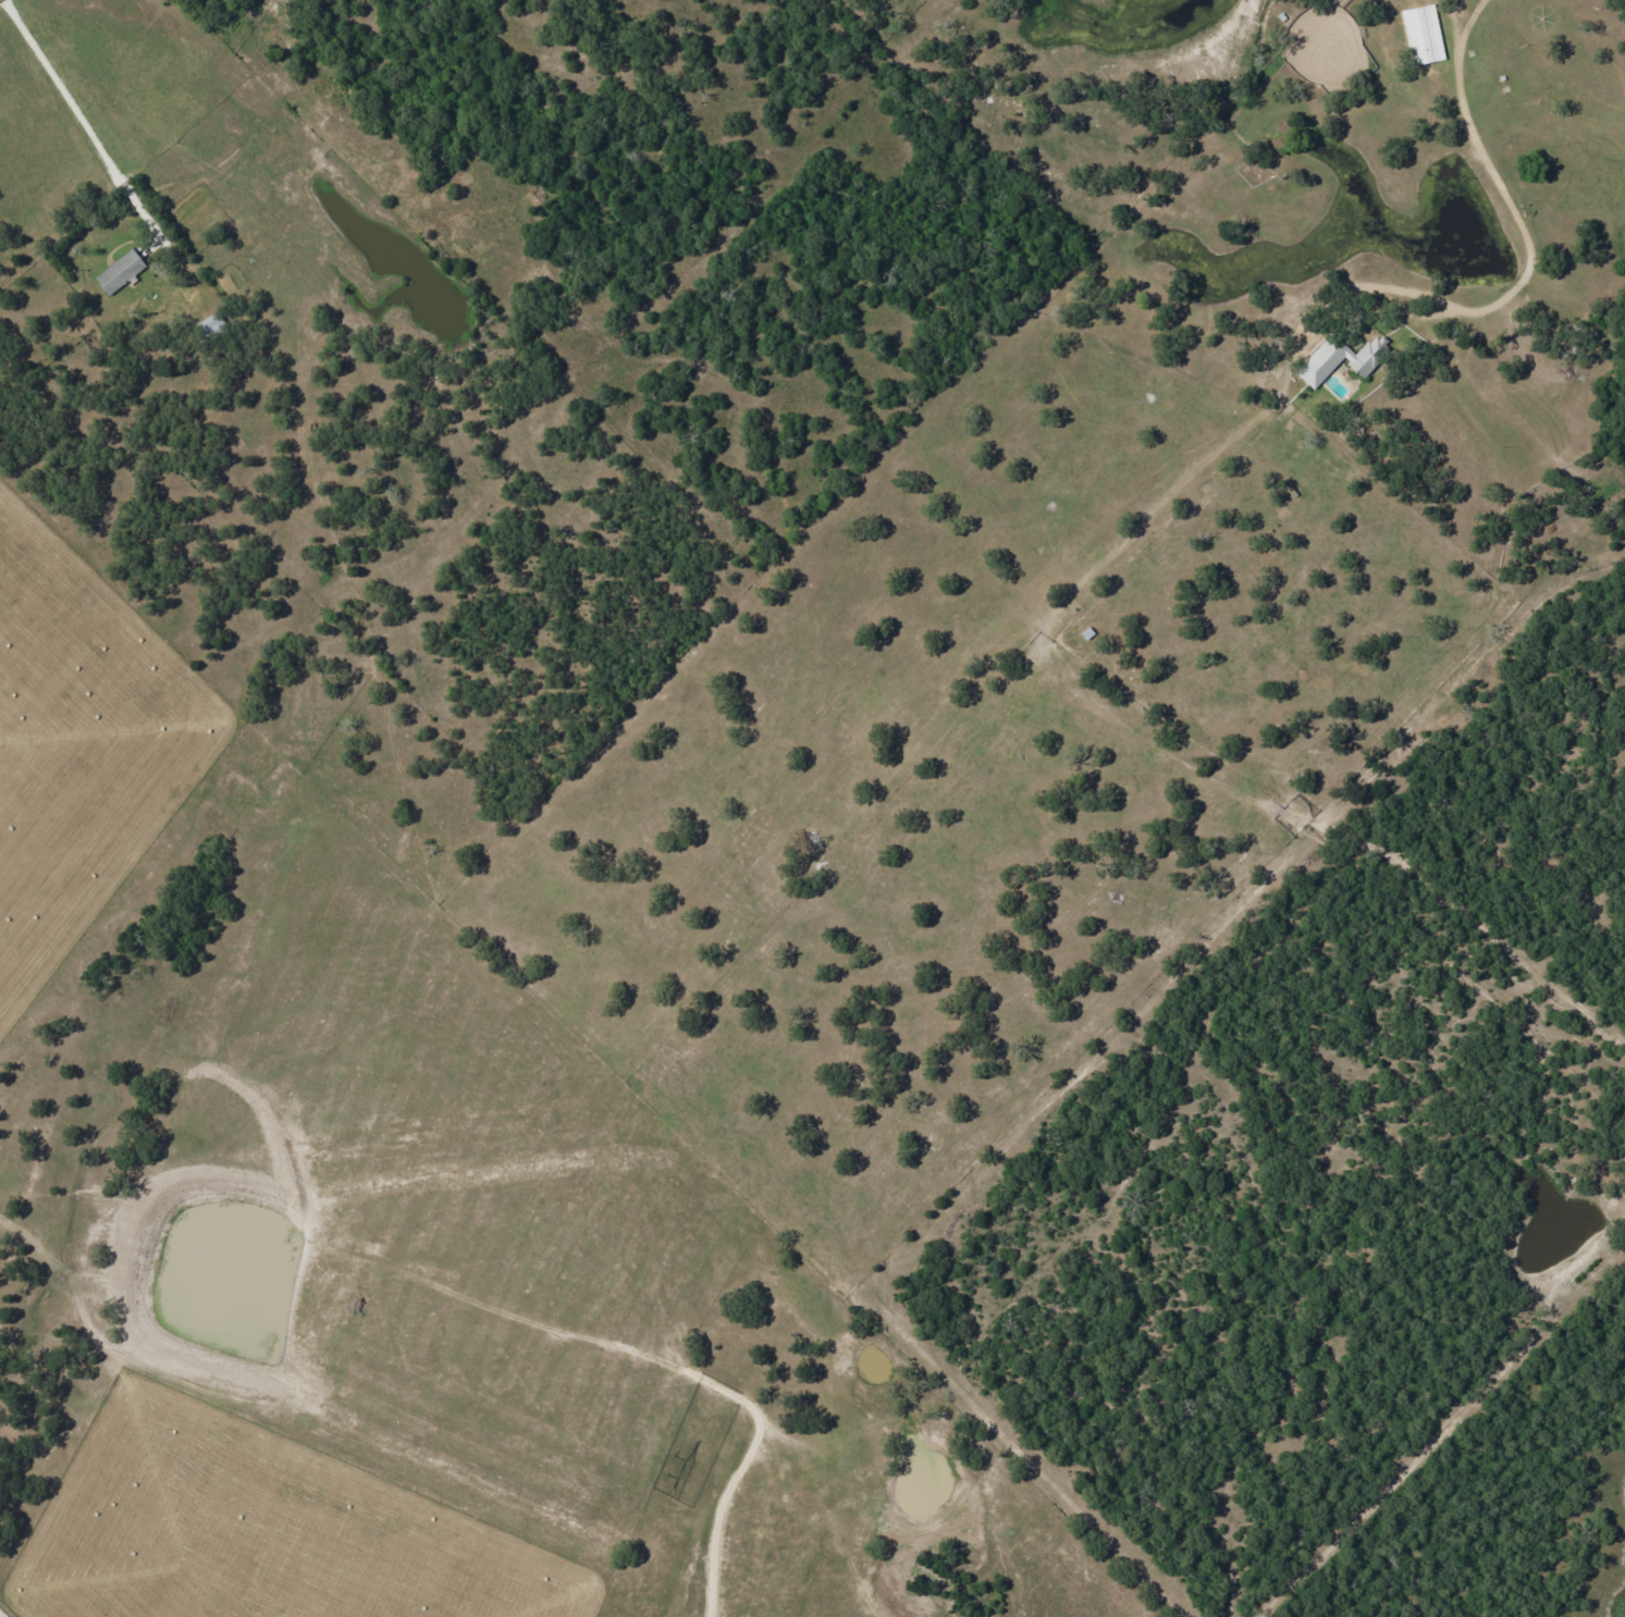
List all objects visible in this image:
building: (1424, 36)
building: (120, 273)
building: (1342, 359)

